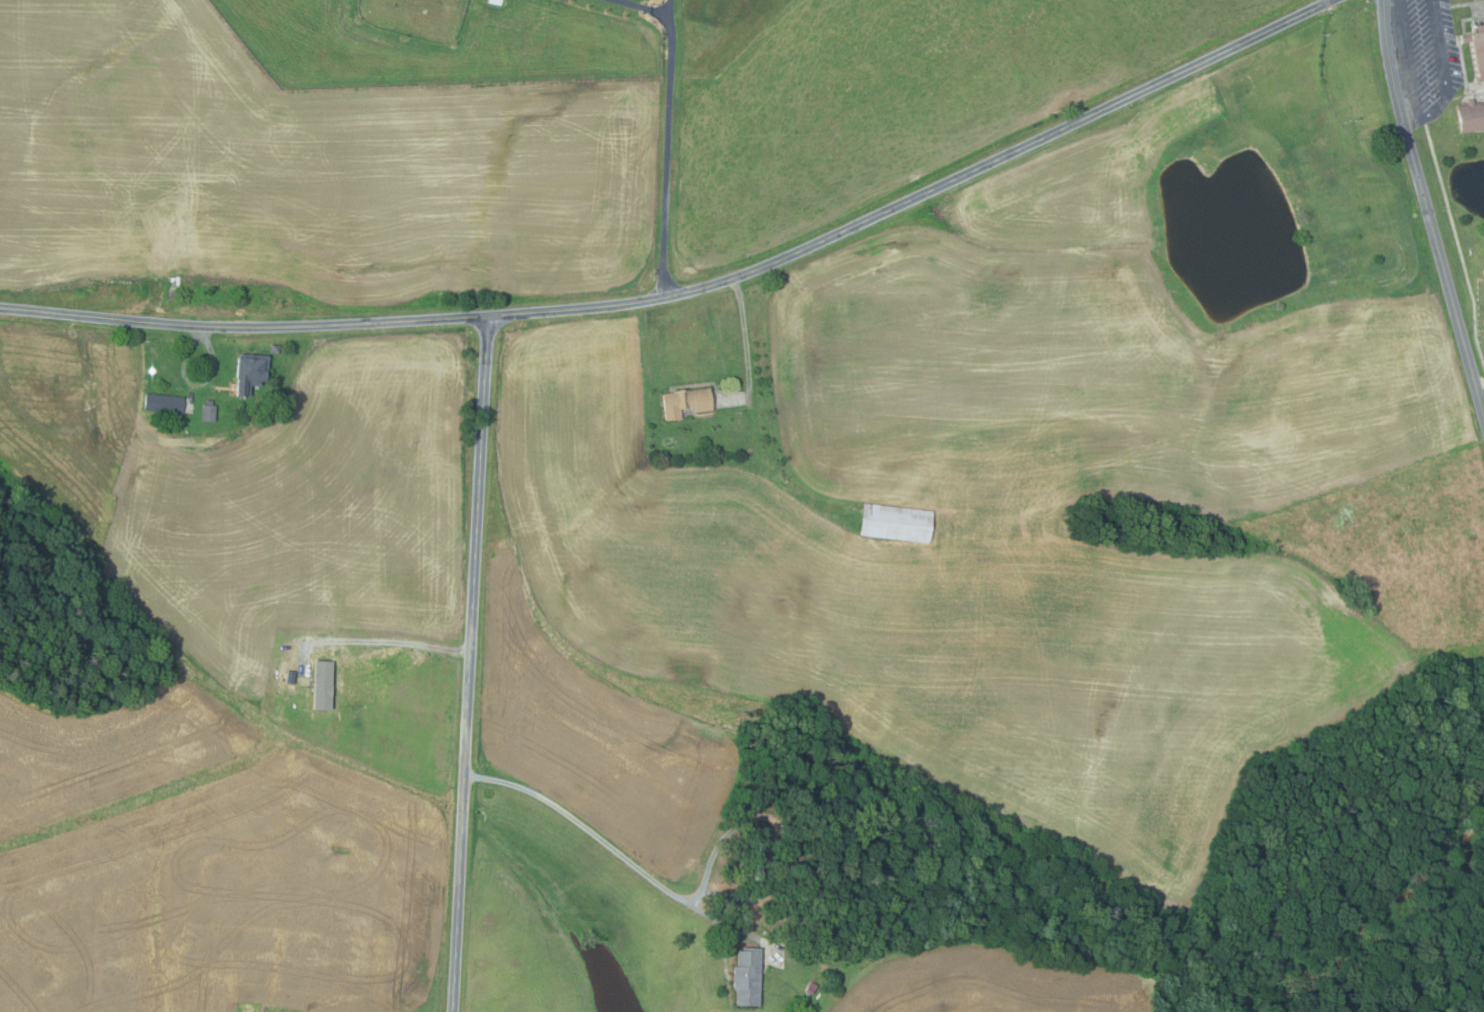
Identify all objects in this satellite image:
building: (496, 1)
road: (647, 8)
road: (671, 12)
building: (1477, 49)
road: (1446, 75)
building: (1472, 115)
road: (665, 161)
crop: (306, 169)
road: (1426, 209)
park: (1474, 281)
road: (697, 291)
road: (745, 333)
building: (275, 348)
building: (251, 372)
road: (1479, 383)
road: (194, 385)
building: (164, 402)
building: (687, 402)
building: (209, 411)
crop: (252, 491)
crop: (1020, 492)
building: (898, 523)
road: (405, 641)
road: (471, 664)
building: (324, 685)
road: (780, 821)
road: (584, 825)
building: (802, 851)
building: (760, 860)
crop: (207, 866)
road: (732, 924)
building: (892, 941)
building: (749, 977)
crop: (998, 983)
building: (812, 988)
building: (803, 1002)

